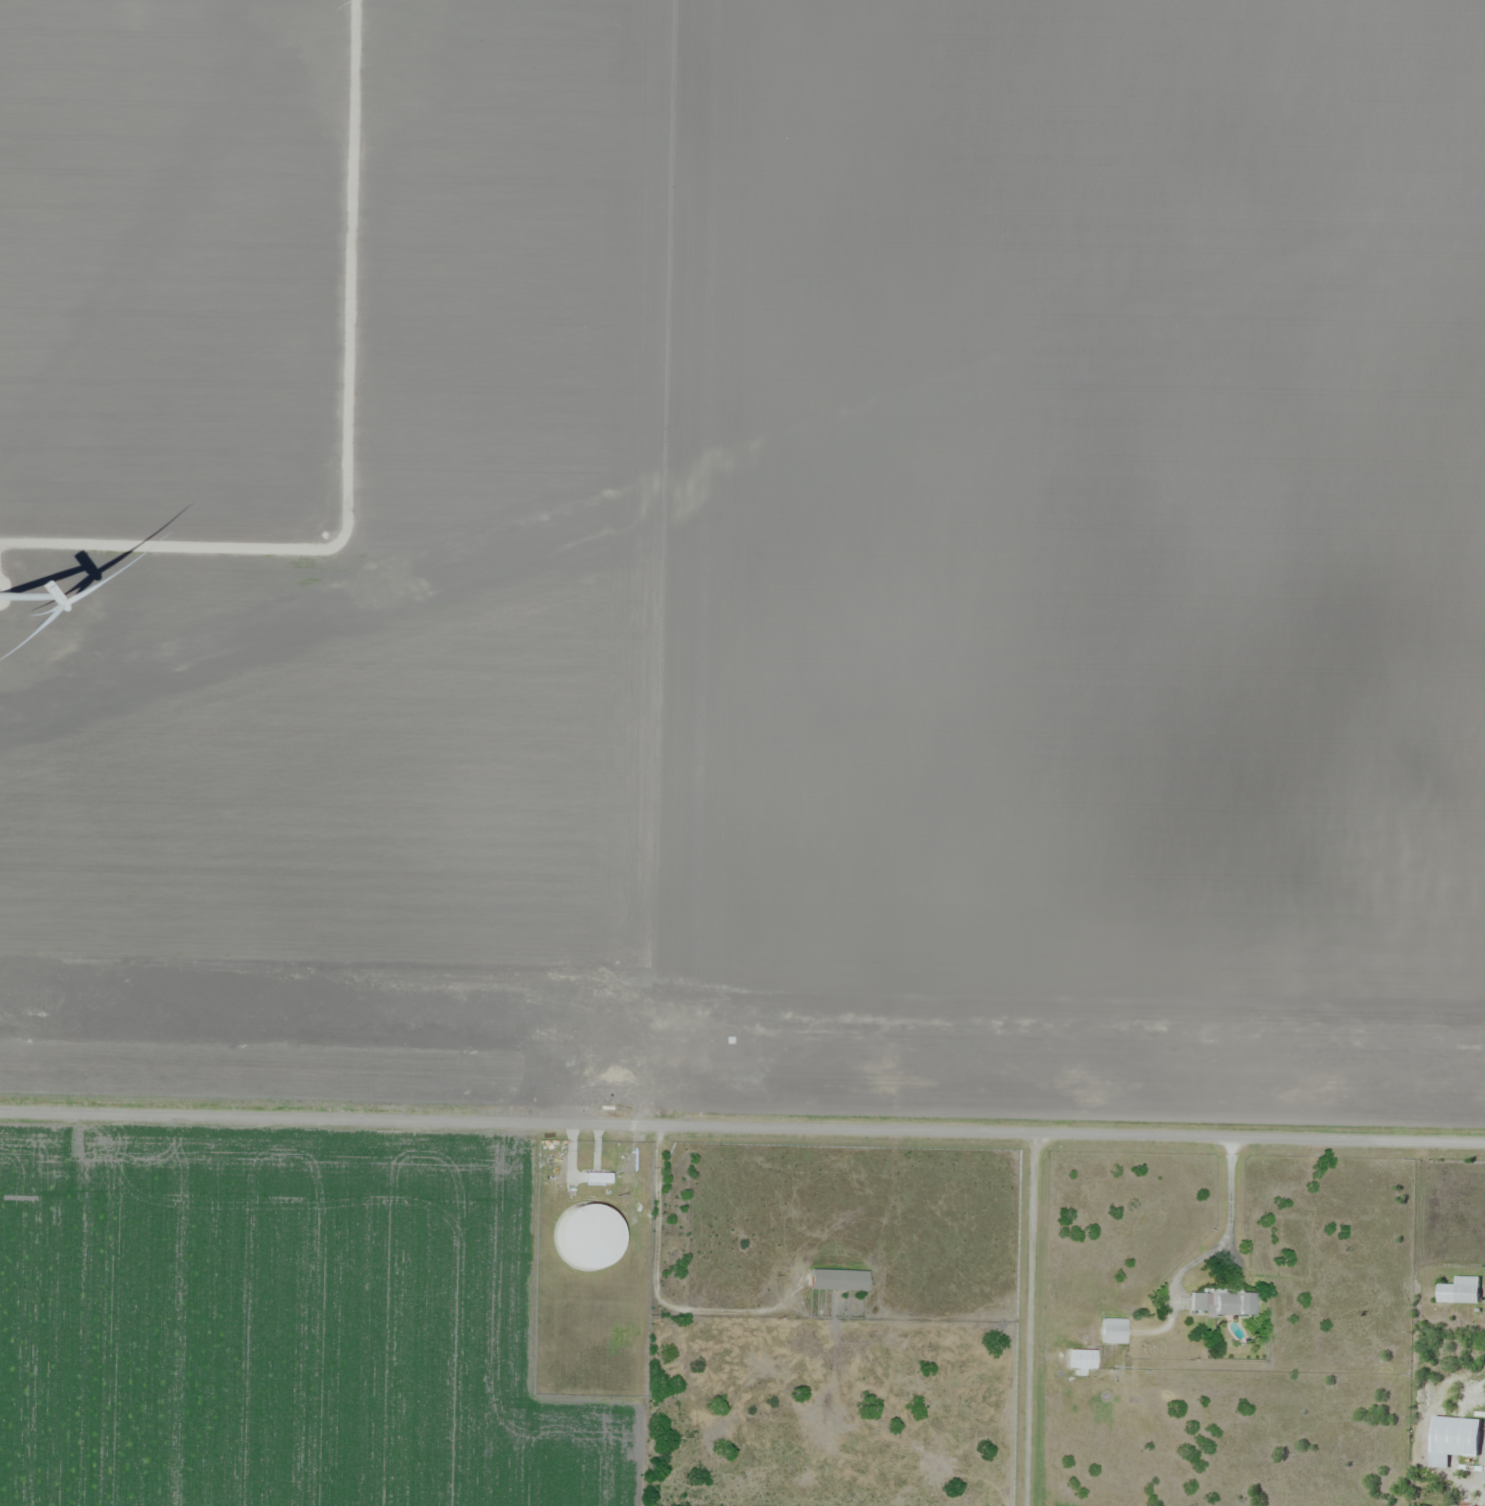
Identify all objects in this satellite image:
road: (742, 1126)
building: (585, 1237)
building: (836, 1279)
building: (1460, 1291)
building: (1224, 1304)
road: (1029, 1317)
building: (1112, 1331)
building: (1081, 1361)
building: (1453, 1439)

